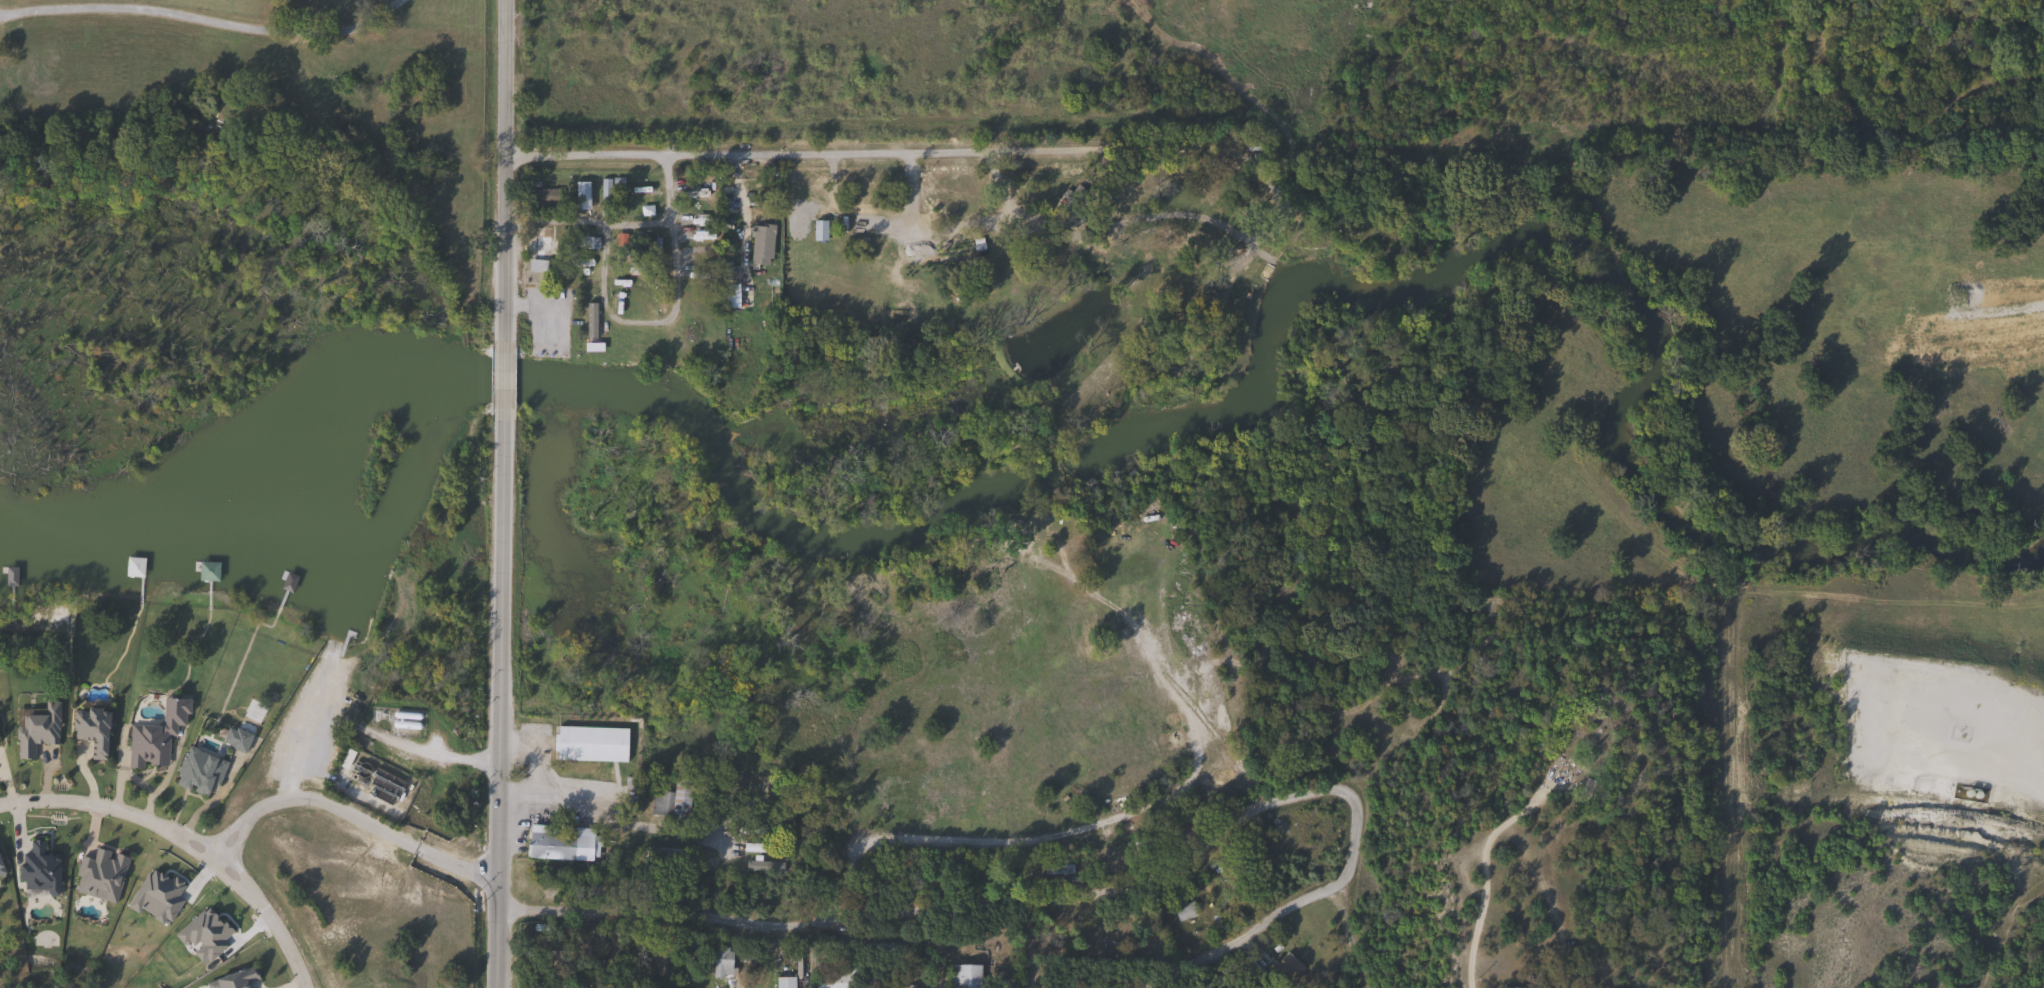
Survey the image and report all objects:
road: (202, 19)
road: (894, 138)
road: (502, 171)
building: (604, 195)
building: (540, 197)
building: (1069, 202)
road: (557, 221)
building: (817, 231)
building: (759, 244)
building: (537, 251)
building: (937, 261)
building: (729, 296)
road: (654, 322)
building: (587, 324)
road: (502, 381)
building: (206, 572)
building: (1200, 642)
road: (497, 704)
building: (1589, 724)
building: (36, 727)
building: (89, 729)
building: (146, 744)
building: (588, 744)
road: (428, 750)
building: (197, 770)
road: (1, 785)
building: (1583, 792)
building: (667, 803)
road: (354, 818)
building: (1309, 820)
road: (198, 825)
building: (767, 833)
road: (1487, 836)
building: (1151, 839)
building: (548, 843)
building: (761, 848)
building: (764, 866)
building: (37, 868)
building: (0, 871)
road: (987, 889)
building: (1183, 911)
road: (1236, 929)
road: (1360, 929)
building: (874, 948)
building: (720, 961)
building: (1283, 967)
building: (963, 976)
building: (234, 978)
building: (834, 980)
building: (783, 982)
building: (1505, 987)

